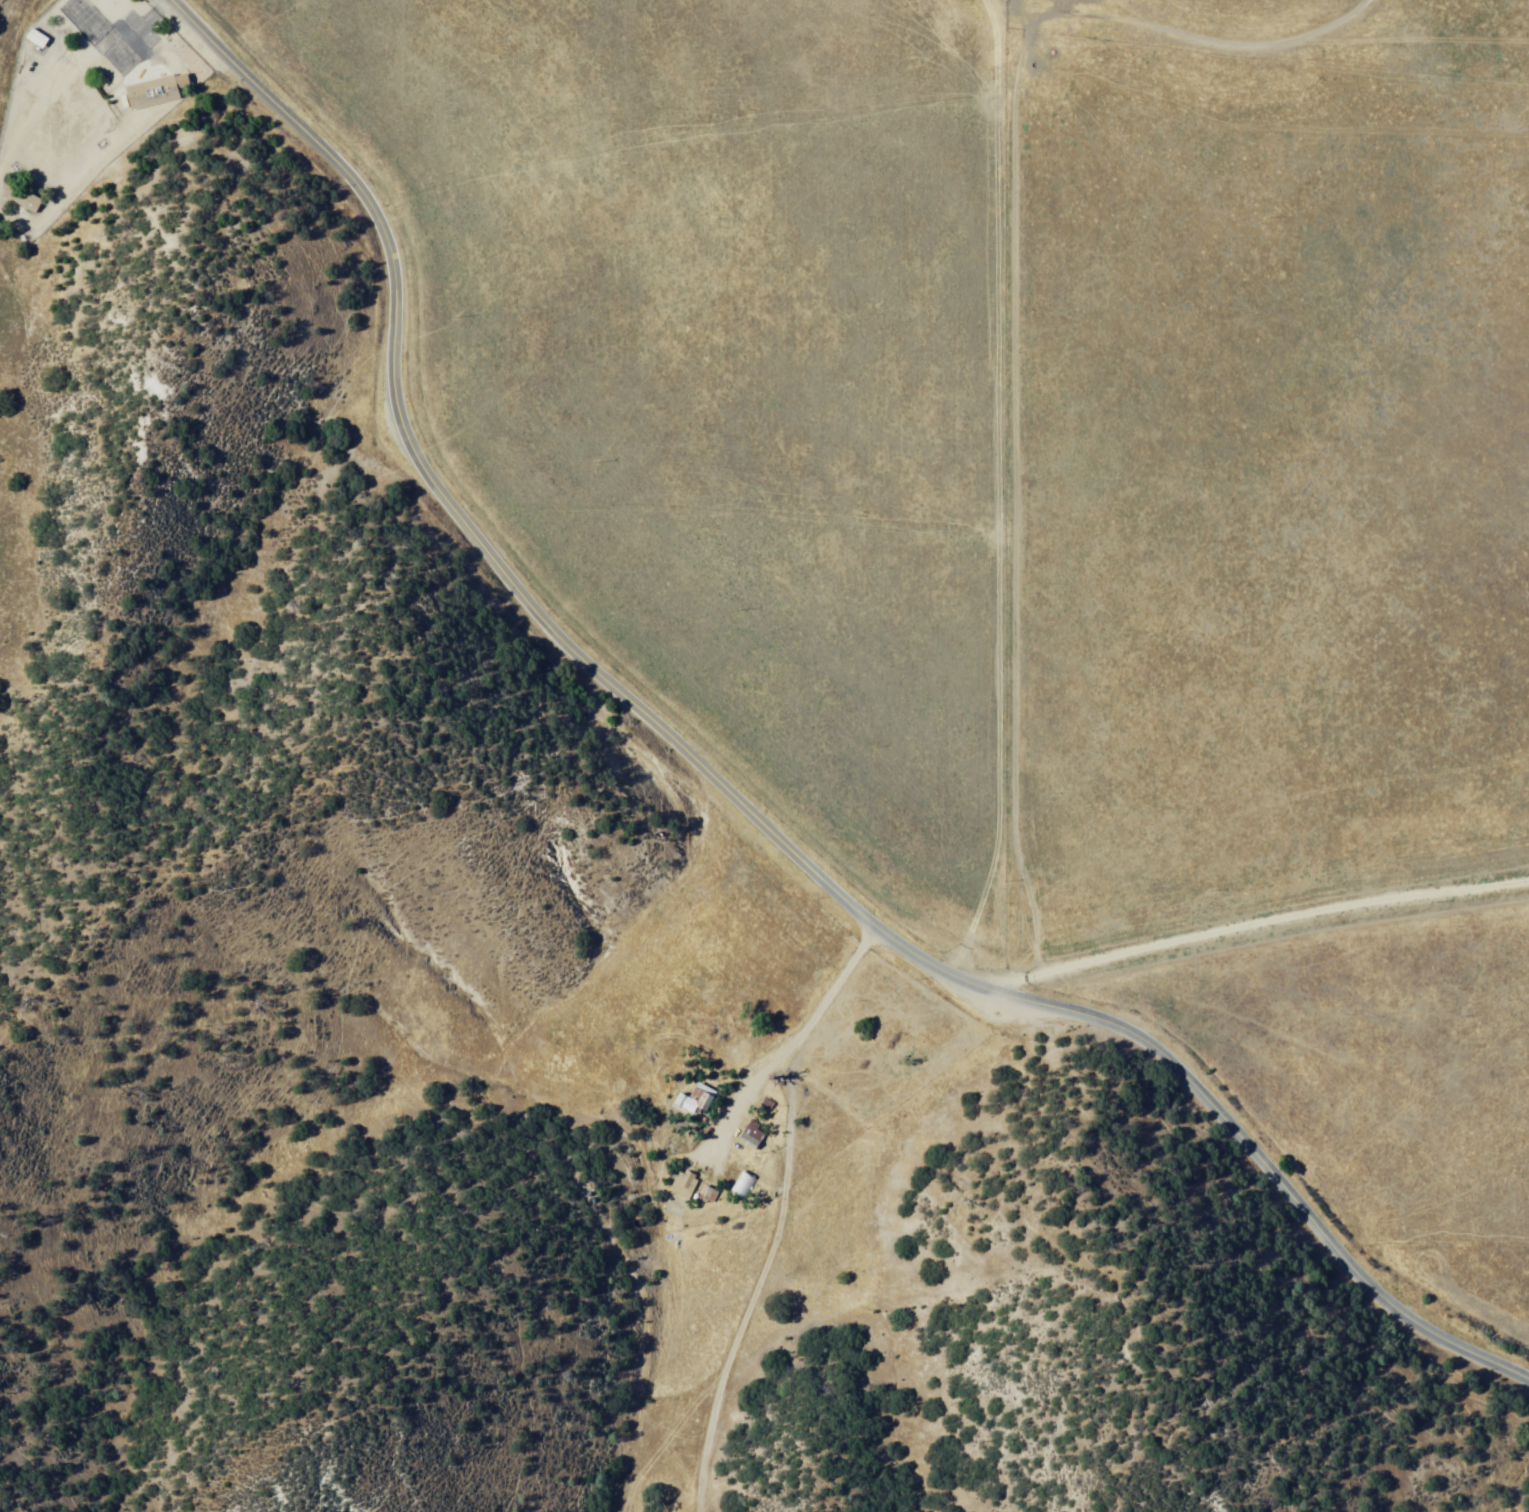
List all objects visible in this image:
building: (25, 34)
building: (125, 49)
building: (150, 91)
building: (21, 198)
road: (1016, 316)
crop: (1043, 491)
road: (728, 792)
road: (1254, 919)
road: (781, 1035)
building: (685, 1096)
building: (699, 1103)
building: (741, 1131)
building: (748, 1141)
building: (684, 1182)
building: (698, 1191)
building: (740, 1191)

